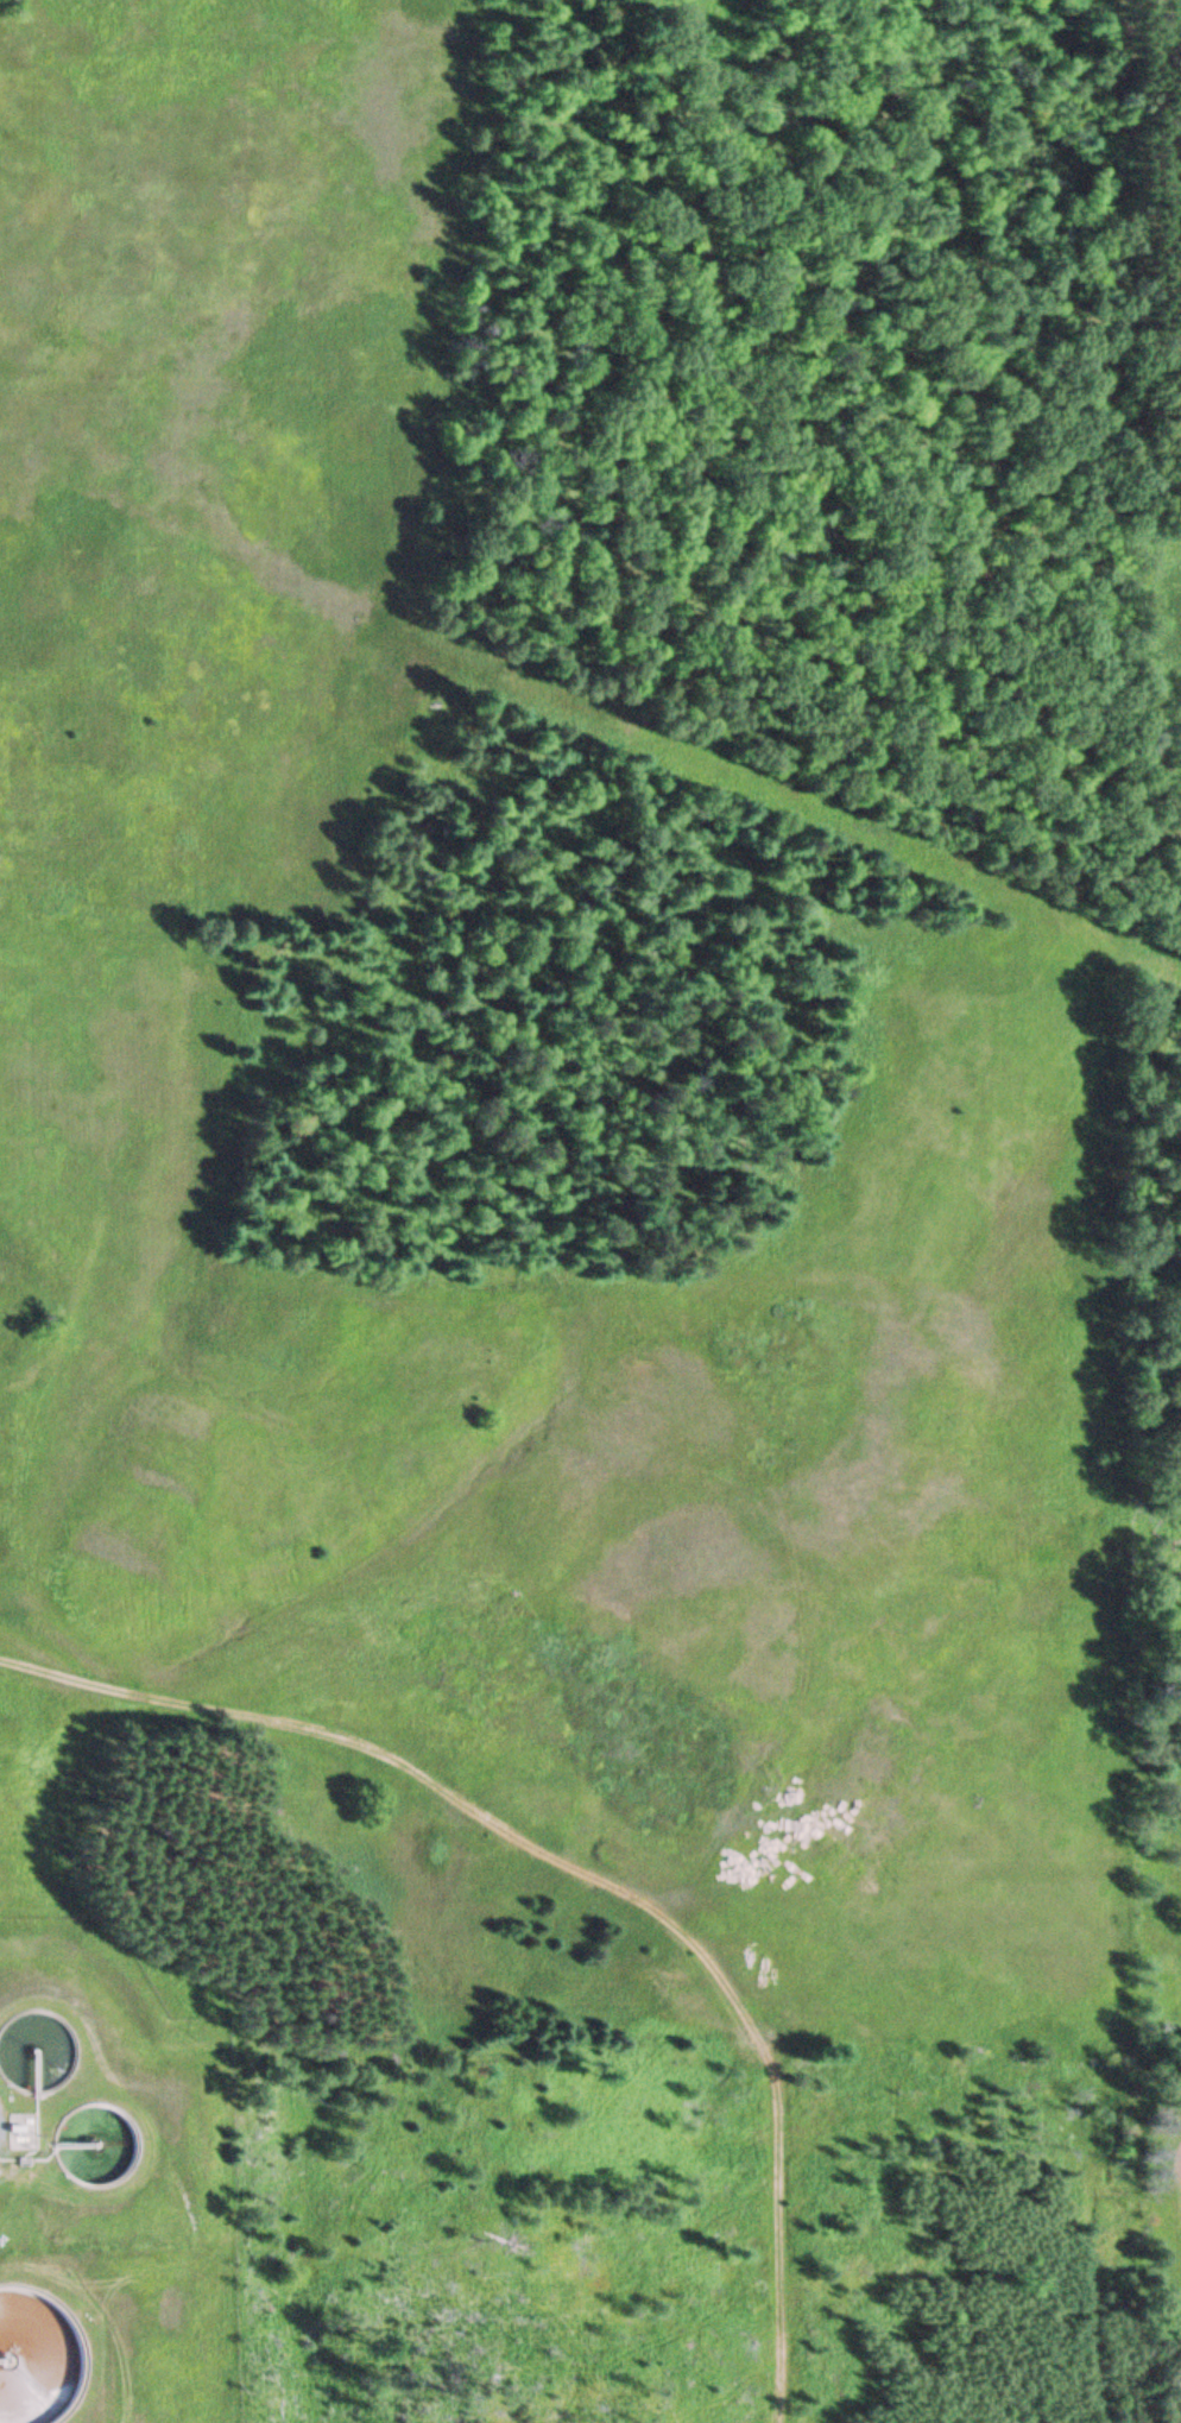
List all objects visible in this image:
building: (30, 2057)
wastewater plant: (122, 2190)

